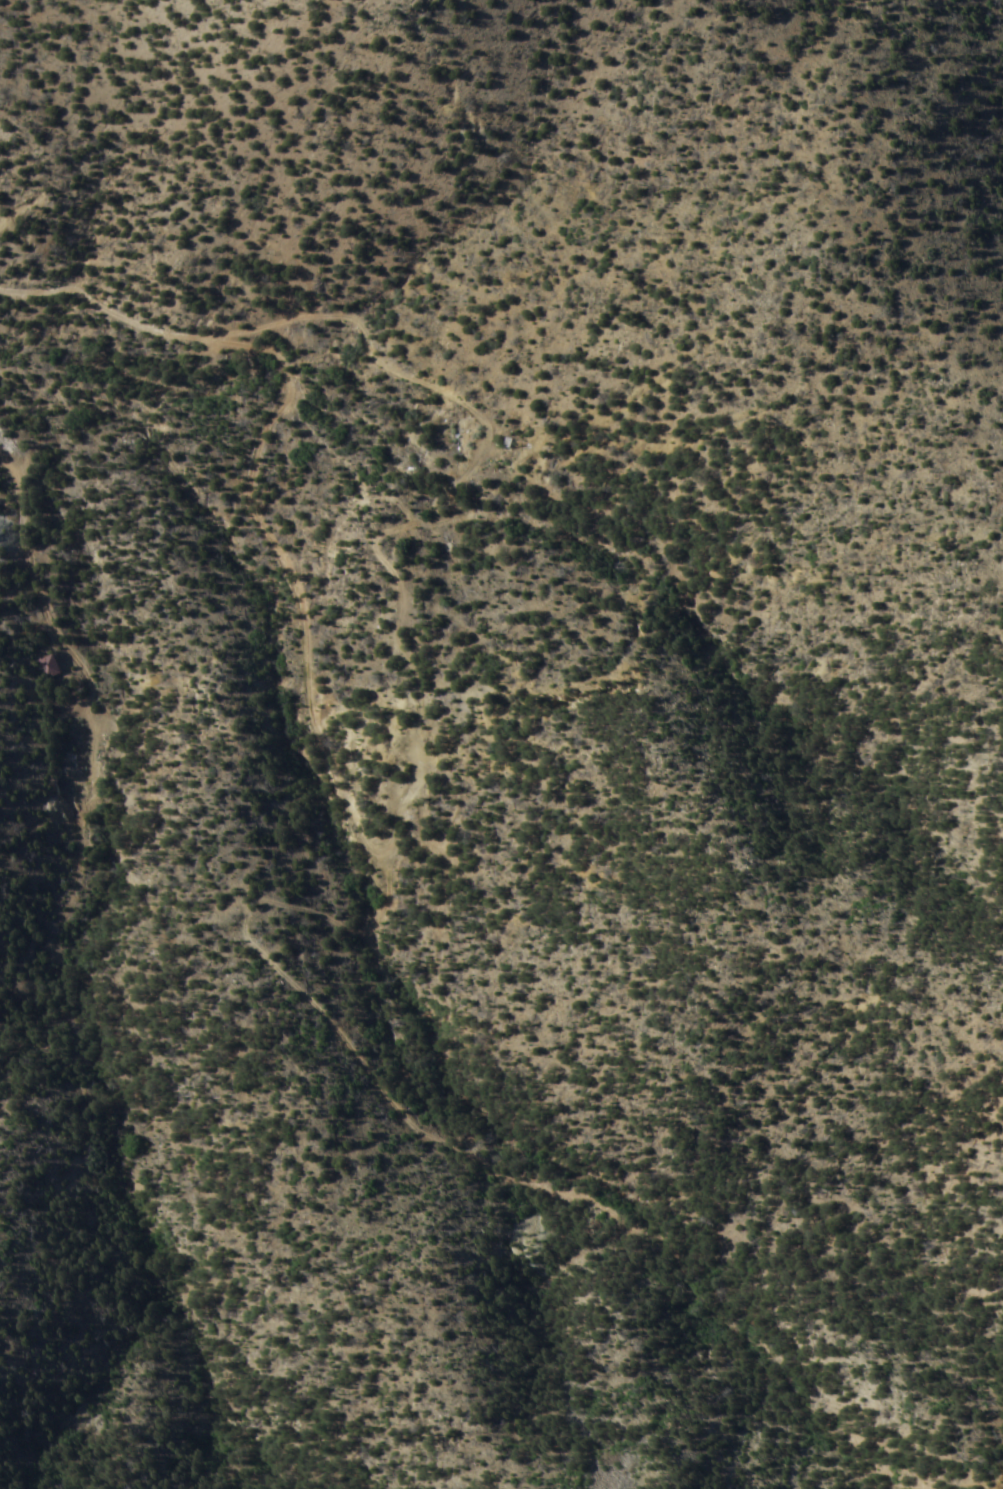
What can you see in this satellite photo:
building: (51, 666)

